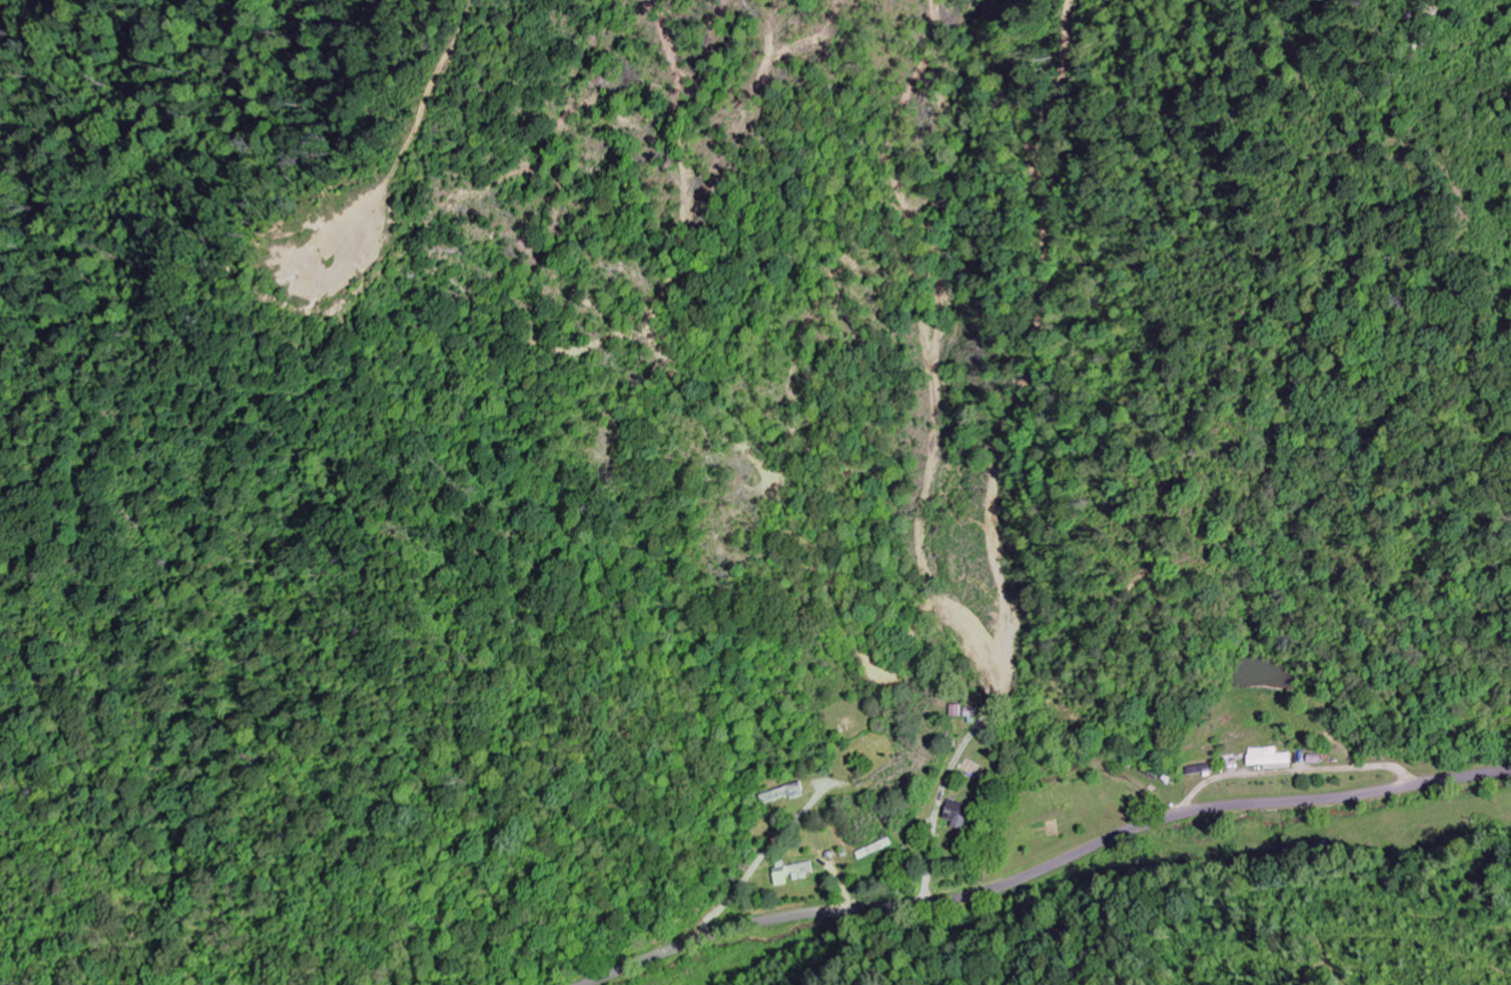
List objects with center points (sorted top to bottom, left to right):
park: (861, 737)
building: (1267, 758)
building: (962, 815)
road: (1042, 868)
building: (796, 872)

